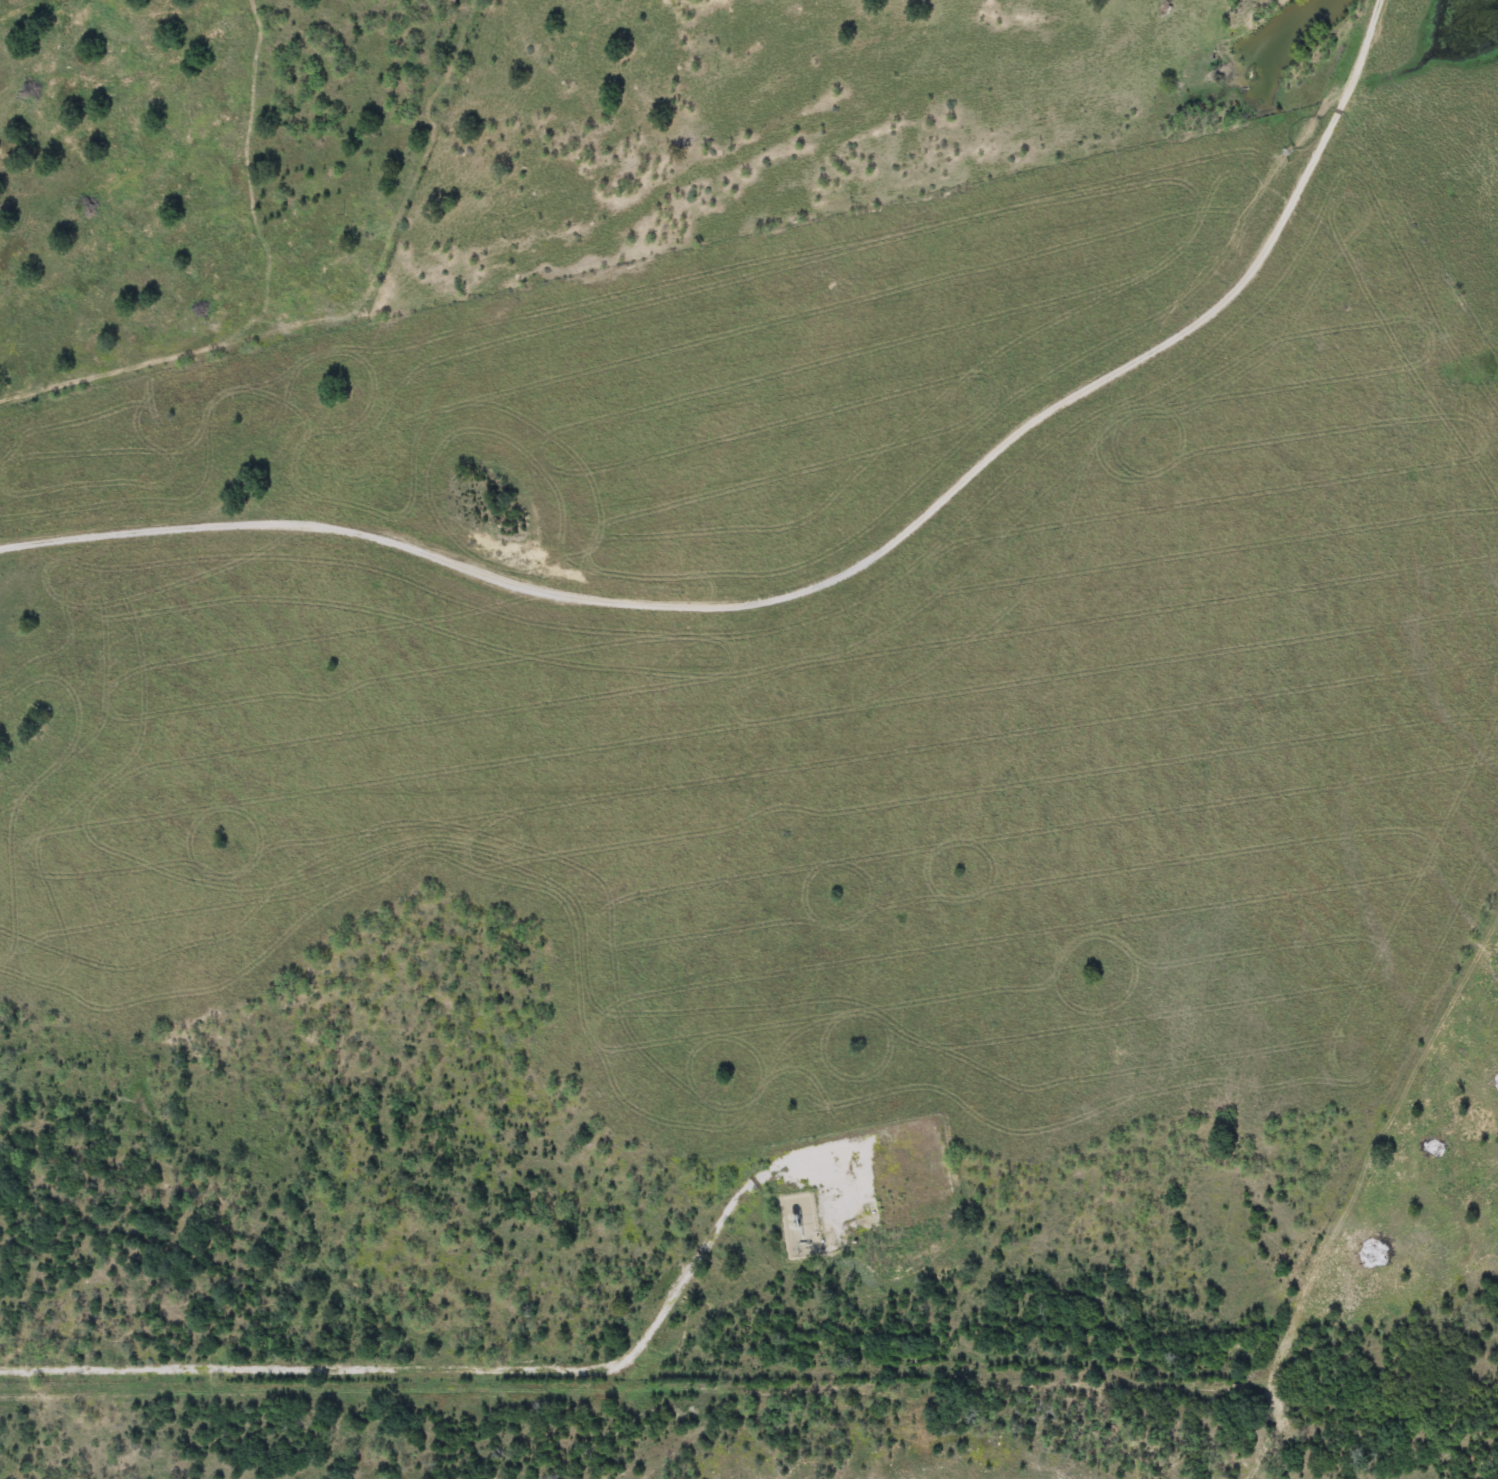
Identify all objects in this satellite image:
road: (818, 578)
road: (521, 1371)

